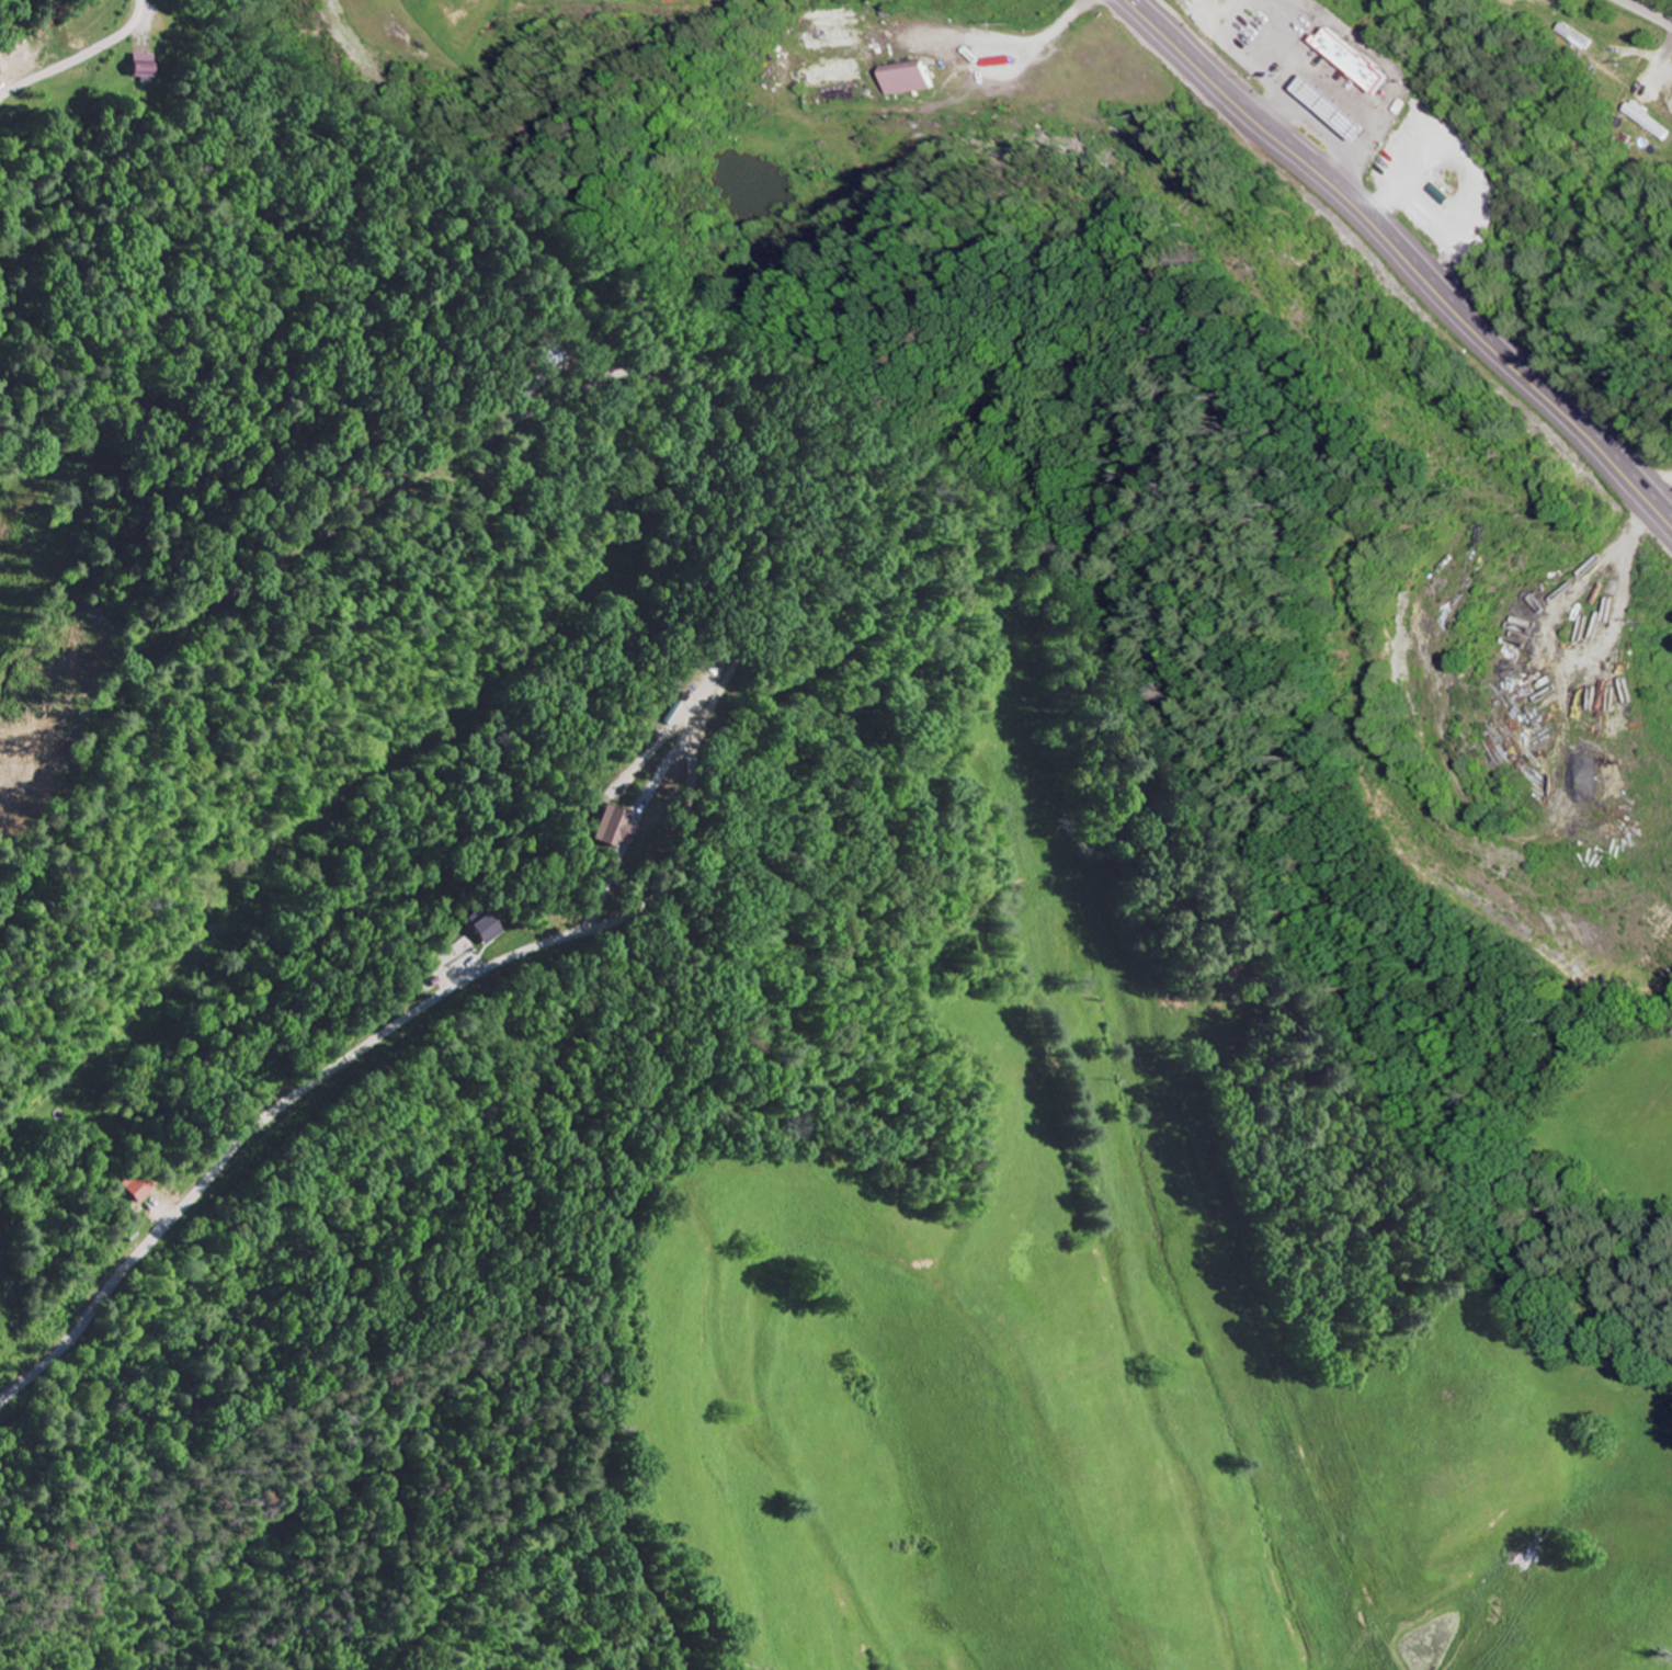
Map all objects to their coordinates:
building: (1513, 1)
road: (1138, 8)
road: (1643, 14)
road: (80, 58)
building: (1369, 61)
building: (146, 67)
building: (920, 82)
building: (1343, 112)
road: (1266, 132)
road: (1528, 389)
building: (606, 825)
building: (486, 929)
building: (136, 1188)

